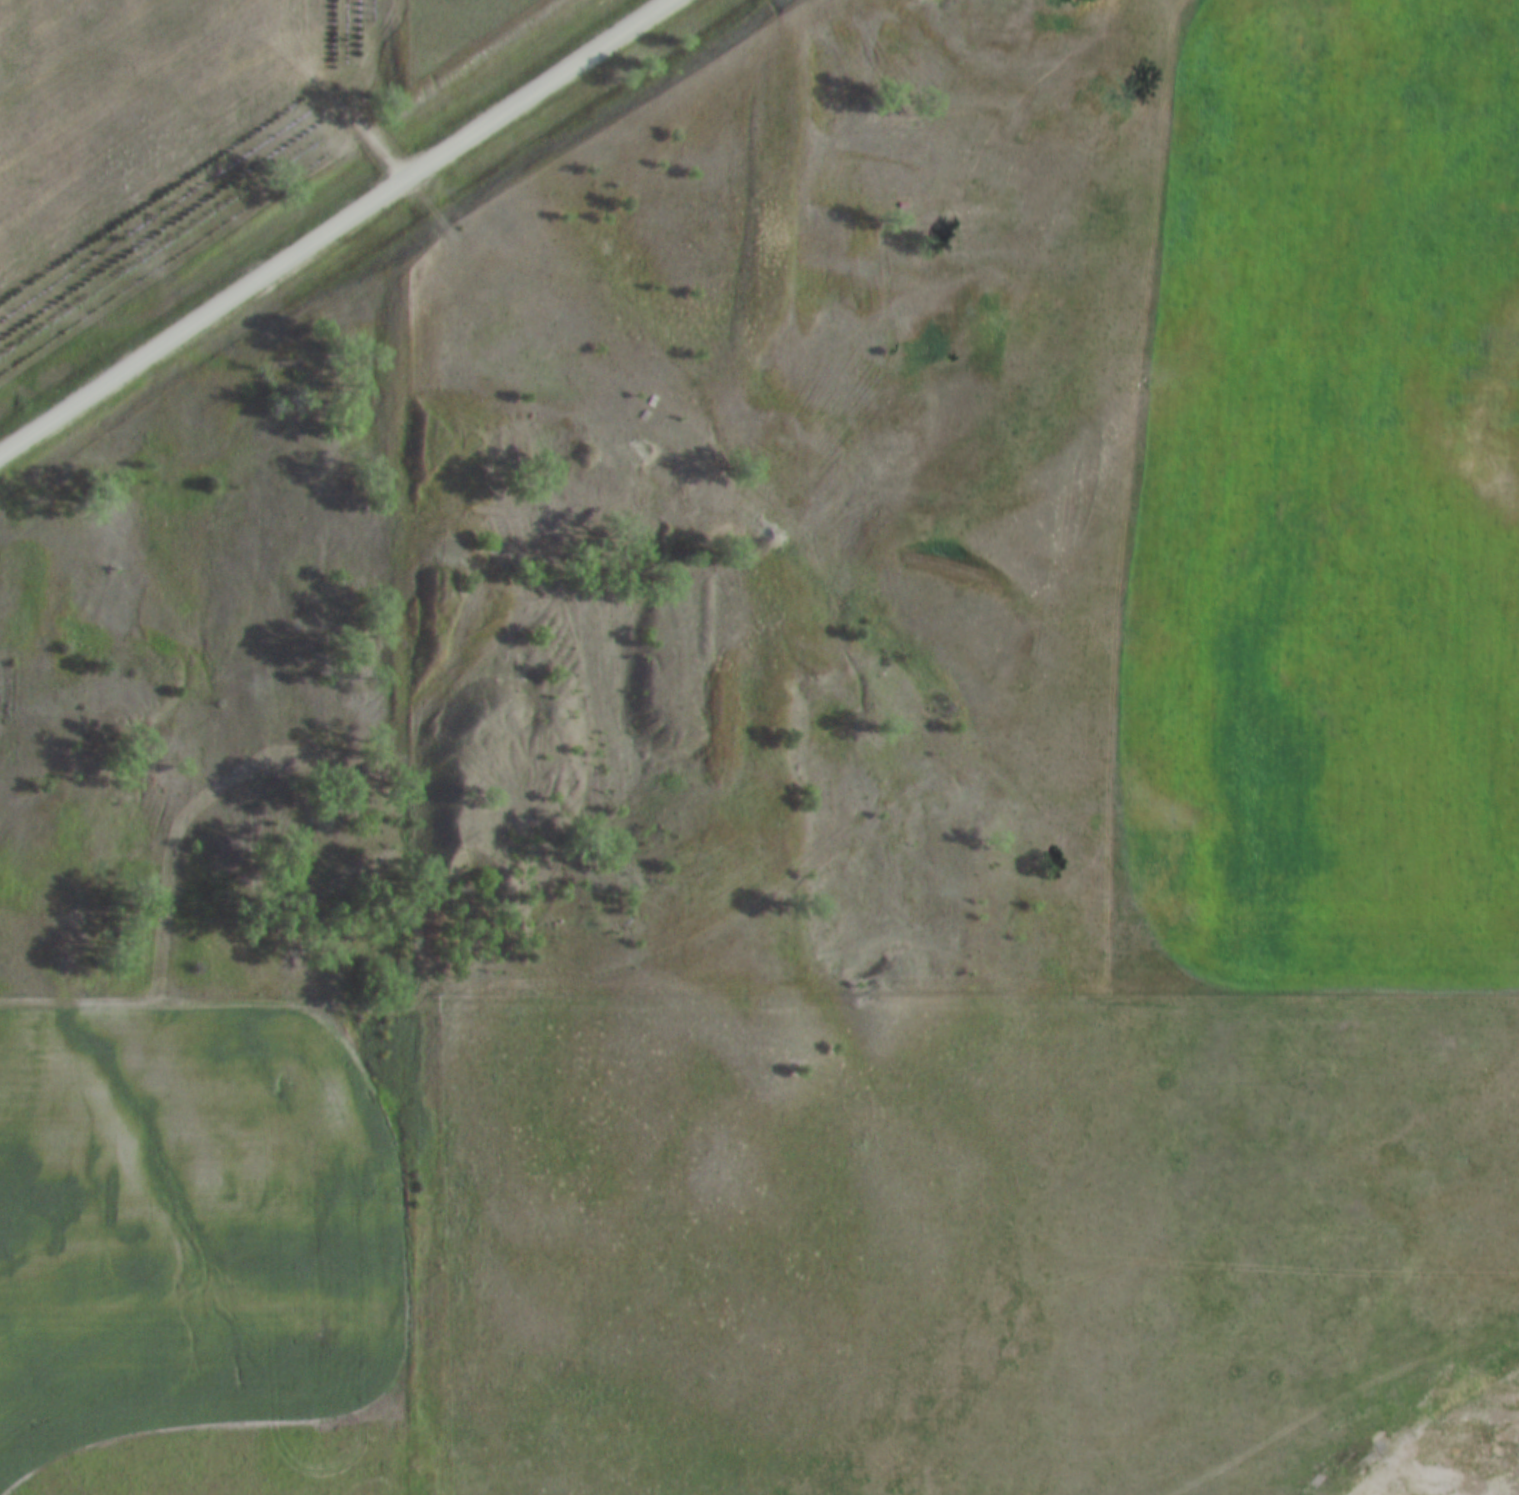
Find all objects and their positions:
road: (331, 225)
road: (597, 822)

